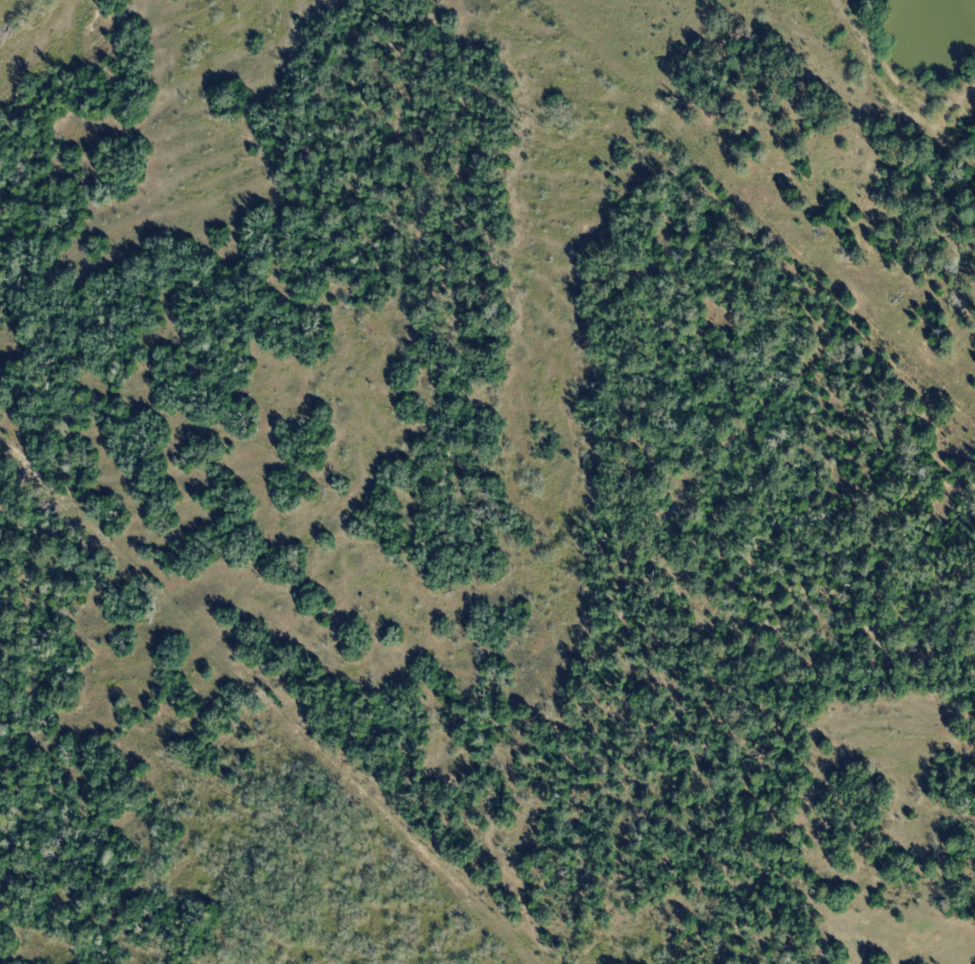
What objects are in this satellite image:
road: (849, 232)

